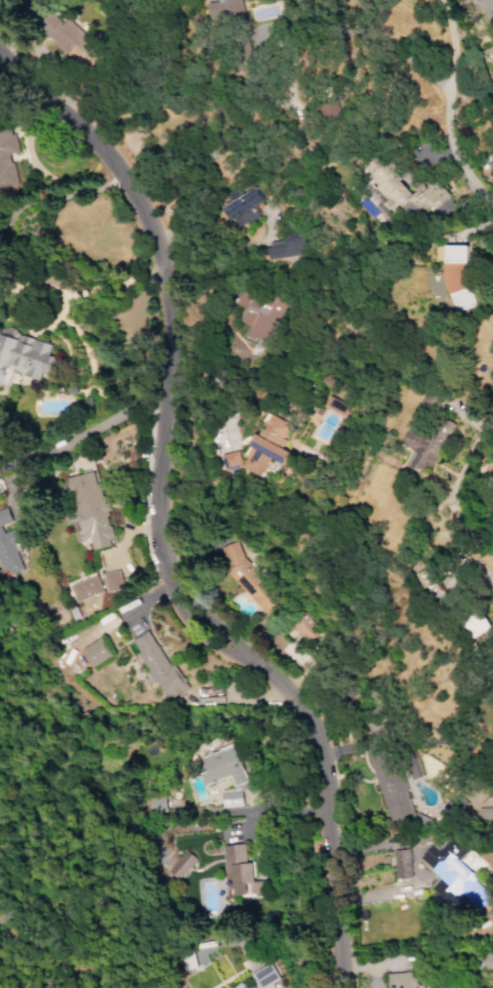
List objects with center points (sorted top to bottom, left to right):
building: (484, 9)
building: (224, 12)
building: (66, 38)
building: (492, 88)
road: (447, 109)
building: (6, 159)
building: (402, 193)
building: (240, 206)
building: (278, 249)
building: (455, 277)
building: (257, 316)
building: (22, 356)
road: (81, 434)
building: (266, 446)
building: (418, 449)
building: (229, 461)
road: (446, 502)
building: (86, 509)
building: (3, 517)
road: (155, 524)
building: (8, 553)
building: (245, 578)
building: (110, 581)
building: (425, 583)
building: (84, 589)
building: (473, 624)
building: (301, 627)
building: (94, 652)
building: (156, 665)
building: (223, 773)
building: (387, 784)
building: (156, 804)
building: (483, 813)
road: (412, 863)
building: (400, 864)
building: (180, 865)
building: (239, 871)
building: (452, 875)
road: (326, 927)
road: (289, 932)
road: (243, 941)
building: (197, 948)
building: (487, 961)
building: (401, 979)
building: (254, 984)
building: (238, 986)

